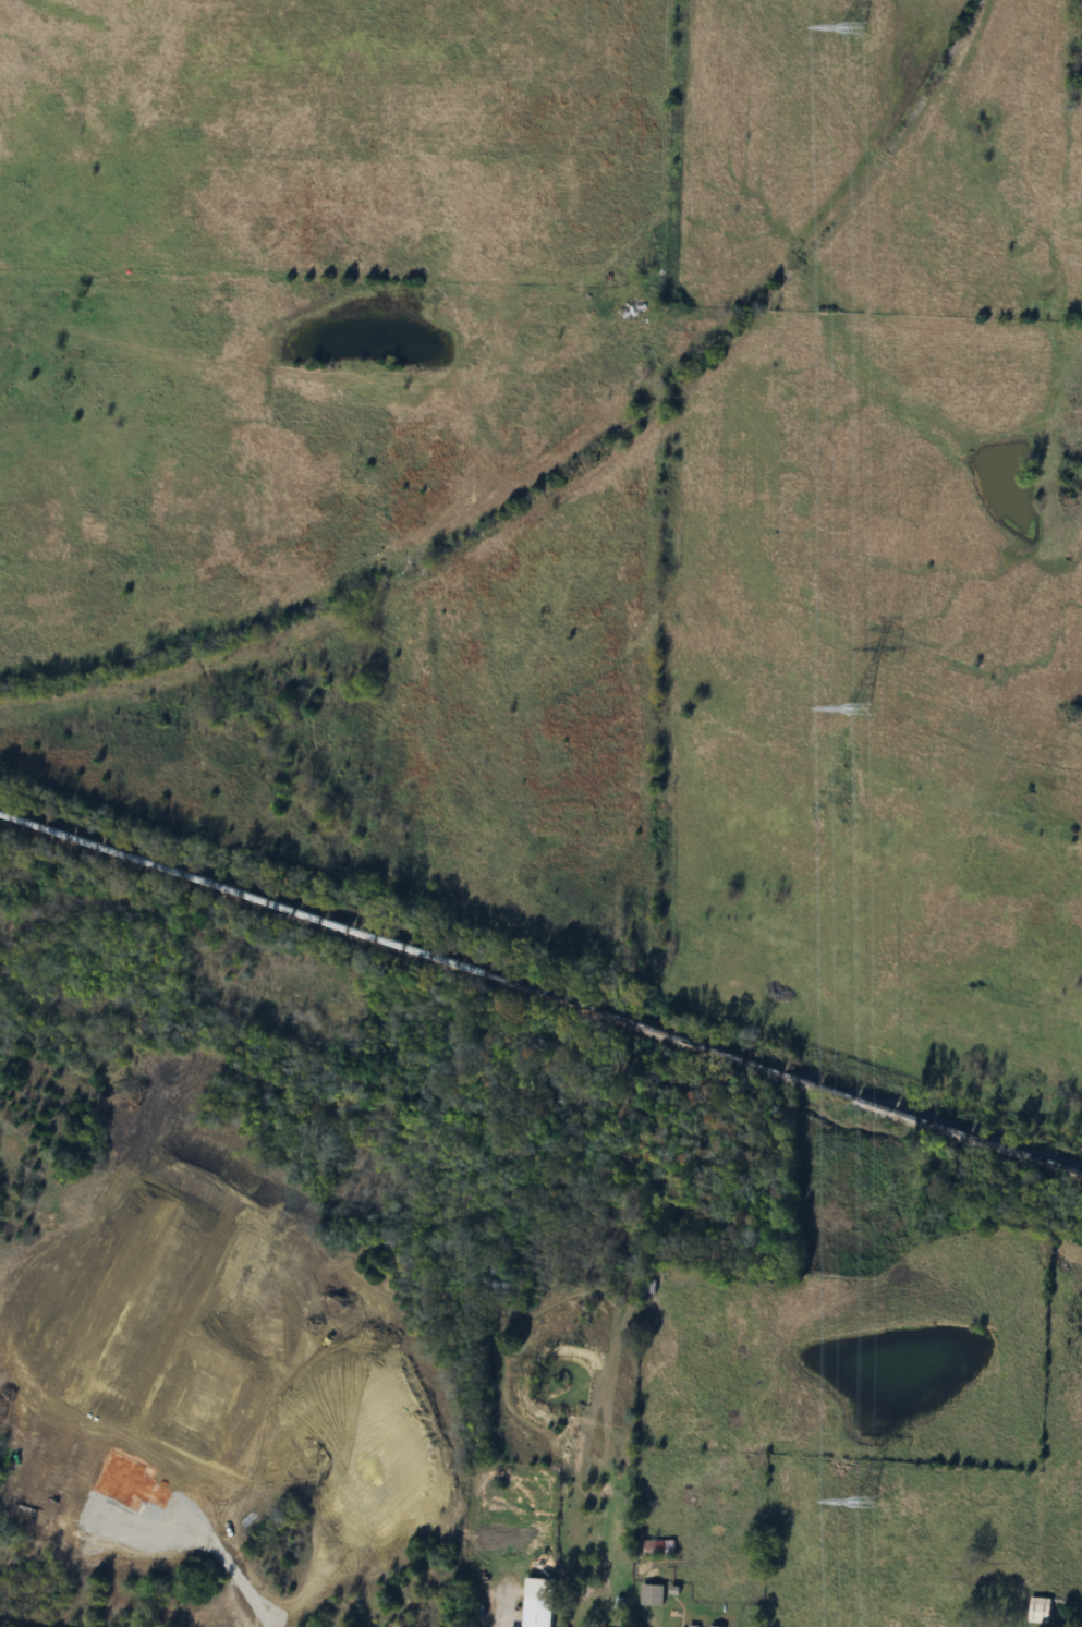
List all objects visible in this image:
power tower: (853, 27)
railway: (567, 458)
power tower: (859, 709)
railway: (540, 991)
power tower: (863, 1505)
building: (656, 1549)
building: (649, 1595)
building: (535, 1613)
building: (710, 1626)

